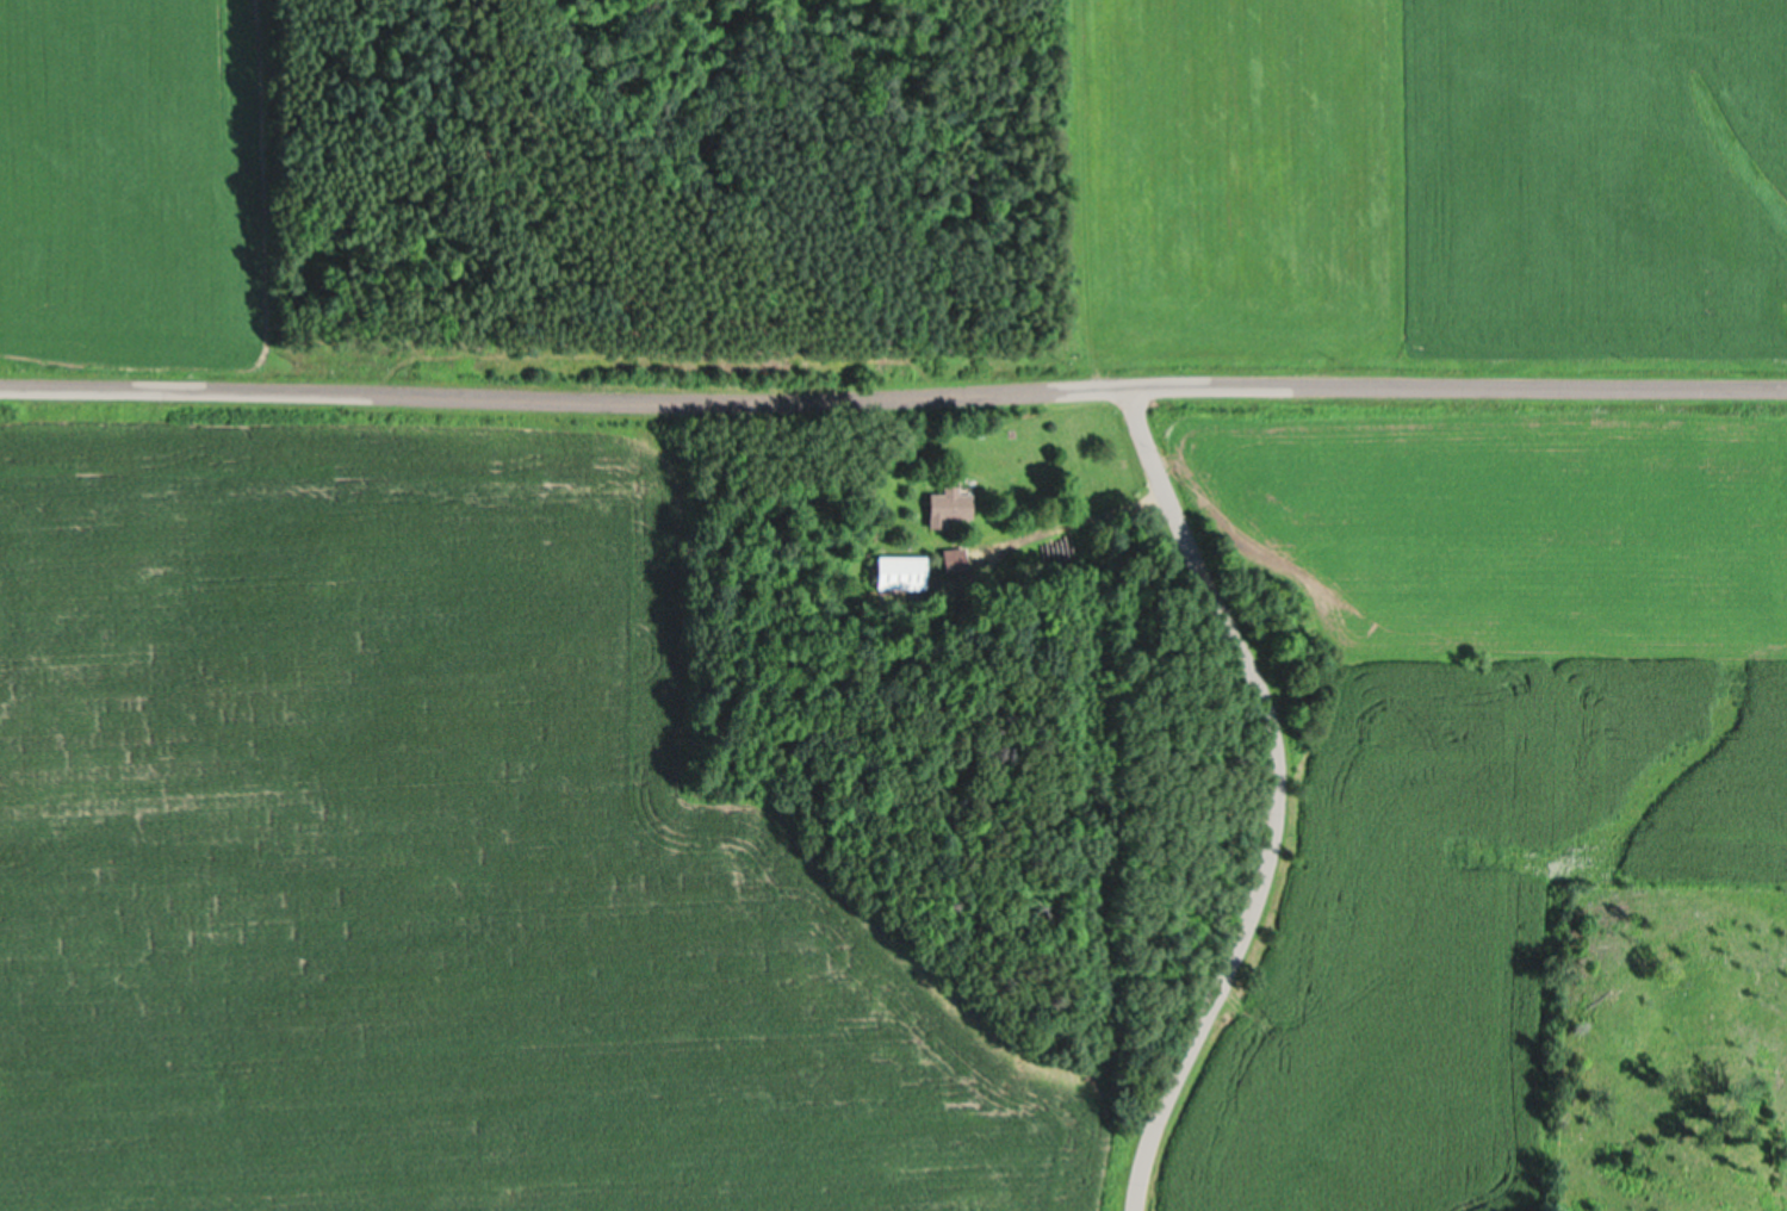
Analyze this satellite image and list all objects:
road: (893, 392)
building: (948, 510)
road: (1074, 516)
building: (902, 573)
road: (1274, 795)

